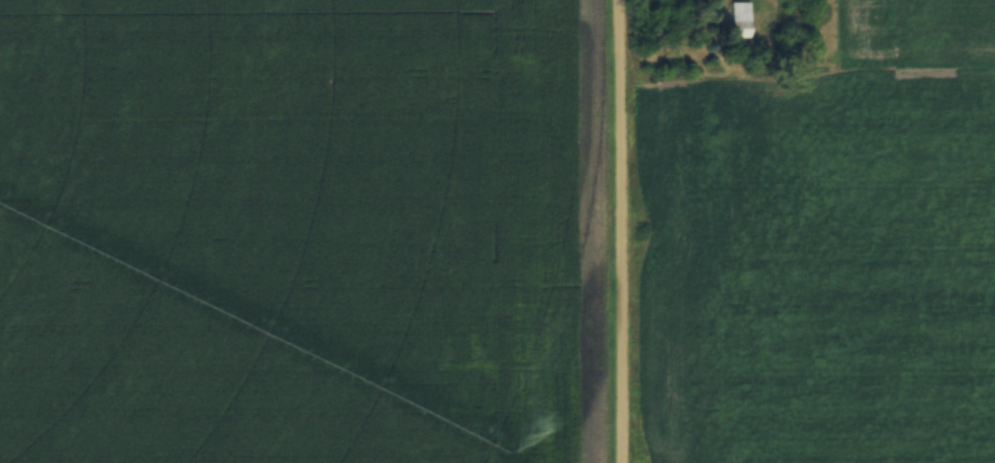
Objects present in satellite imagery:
building: (740, 17)
road: (631, 231)

